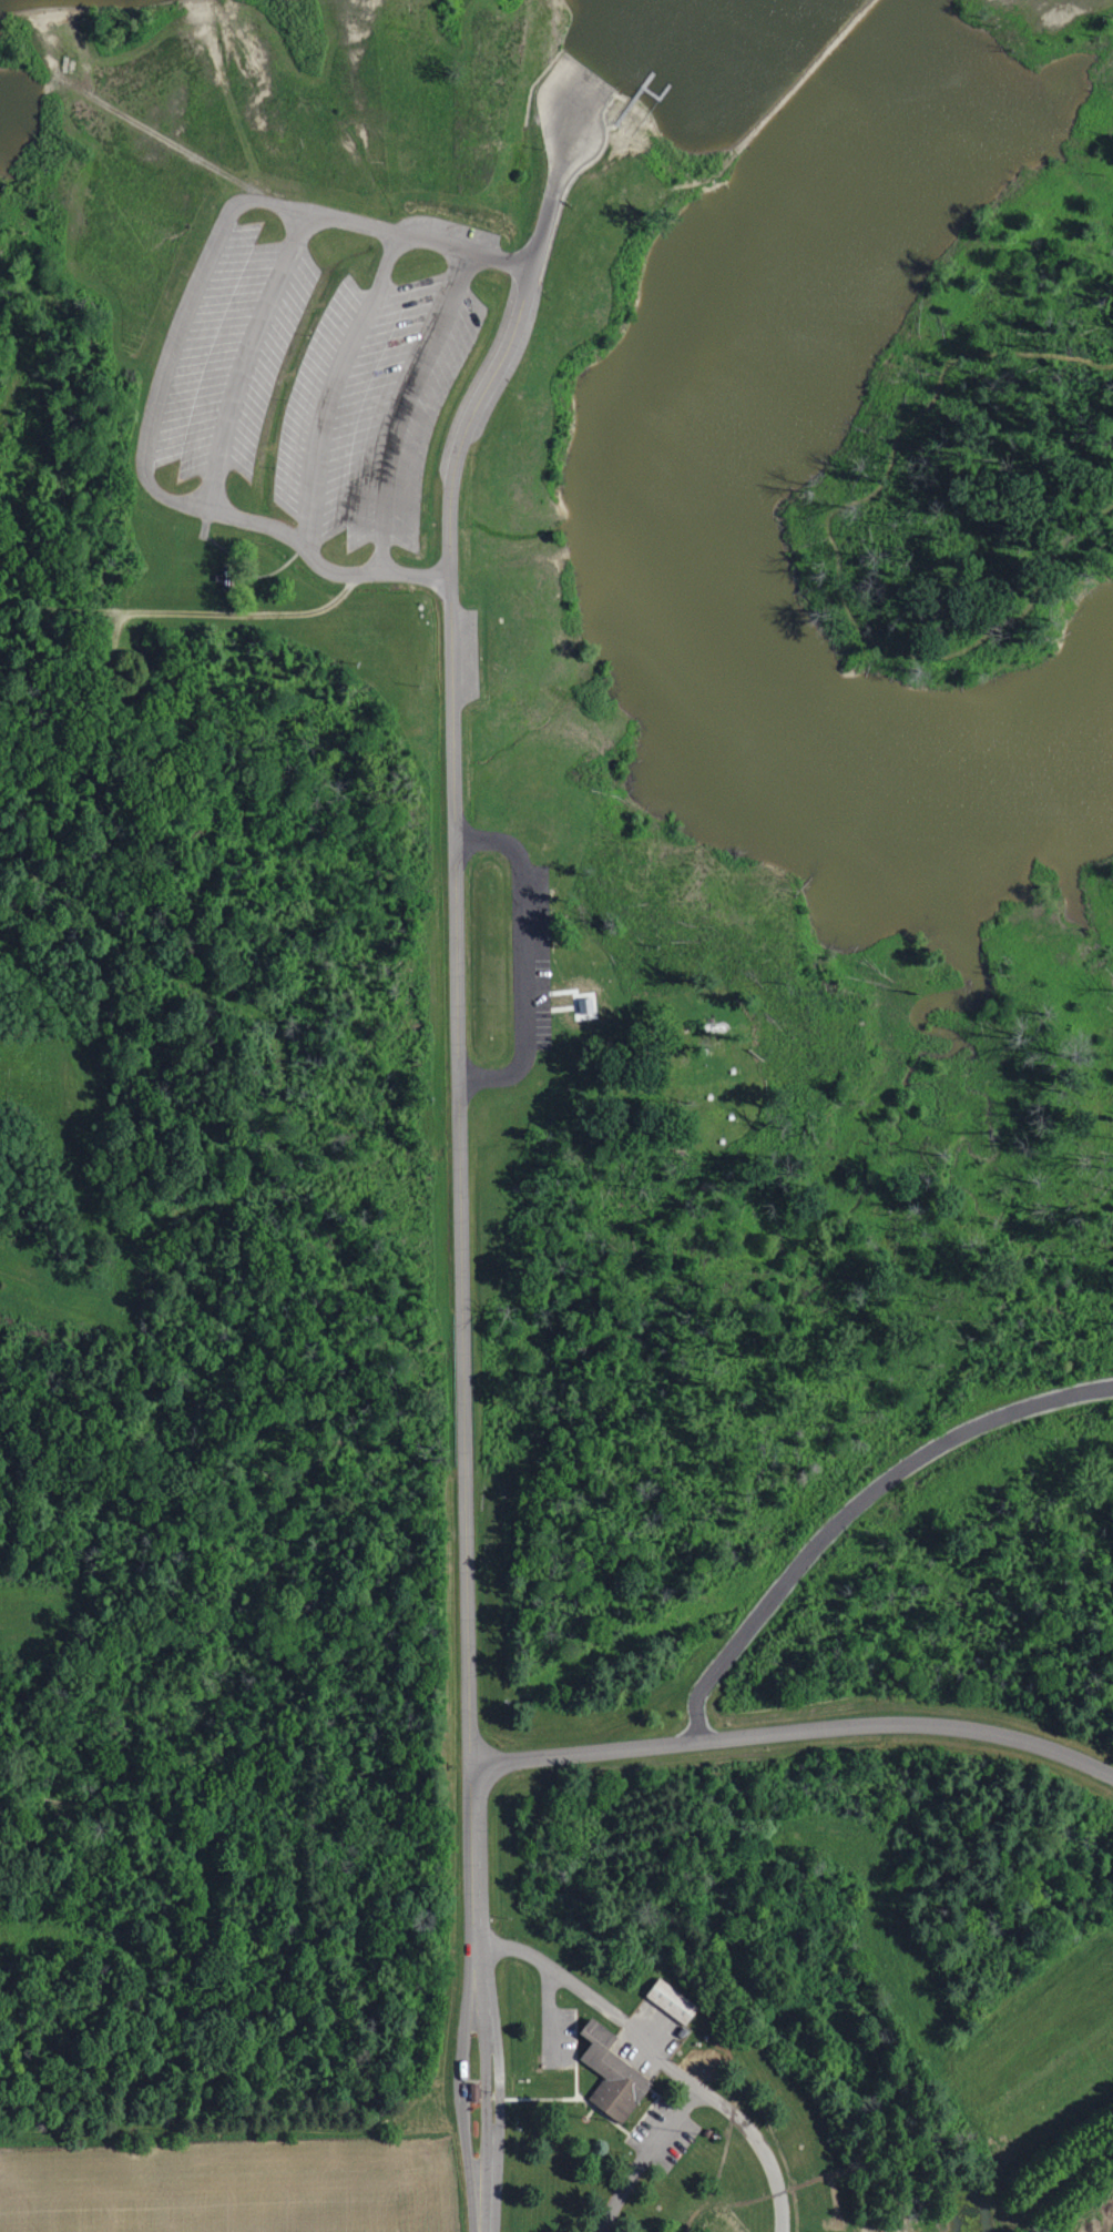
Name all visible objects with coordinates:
road: (463, 26)
road: (52, 38)
road: (145, 45)
road: (288, 70)
pier: (655, 97)
road: (384, 101)
road: (228, 102)
pier: (627, 102)
road: (584, 121)
road: (170, 143)
road: (325, 194)
road: (418, 233)
road: (69, 234)
road: (184, 263)
road: (35, 336)
road: (172, 336)
parking lot: (228, 351)
road: (245, 358)
road: (333, 386)
road: (401, 404)
parking lot: (372, 406)
road: (205, 523)
road: (830, 542)
road: (319, 565)
road: (245, 576)
road: (90, 610)
road: (233, 611)
parking lot: (463, 656)
road: (456, 945)
parking lot: (535, 953)
road: (523, 958)
building: (580, 1003)
park: (702, 1068)
road: (205, 1203)
road: (92, 1216)
road: (850, 1505)
road: (33, 1614)
road: (796, 1731)
road: (474, 1945)
building: (674, 2002)
road: (550, 2013)
parking lot: (562, 2036)
parking lot: (649, 2040)
road: (660, 2060)
crop: (1038, 2064)
building: (612, 2073)
road: (470, 2080)
road: (488, 2088)
building: (470, 2090)
road: (575, 2090)
road: (591, 2109)
road: (603, 2113)
parking lot: (662, 2133)
road: (645, 2155)

